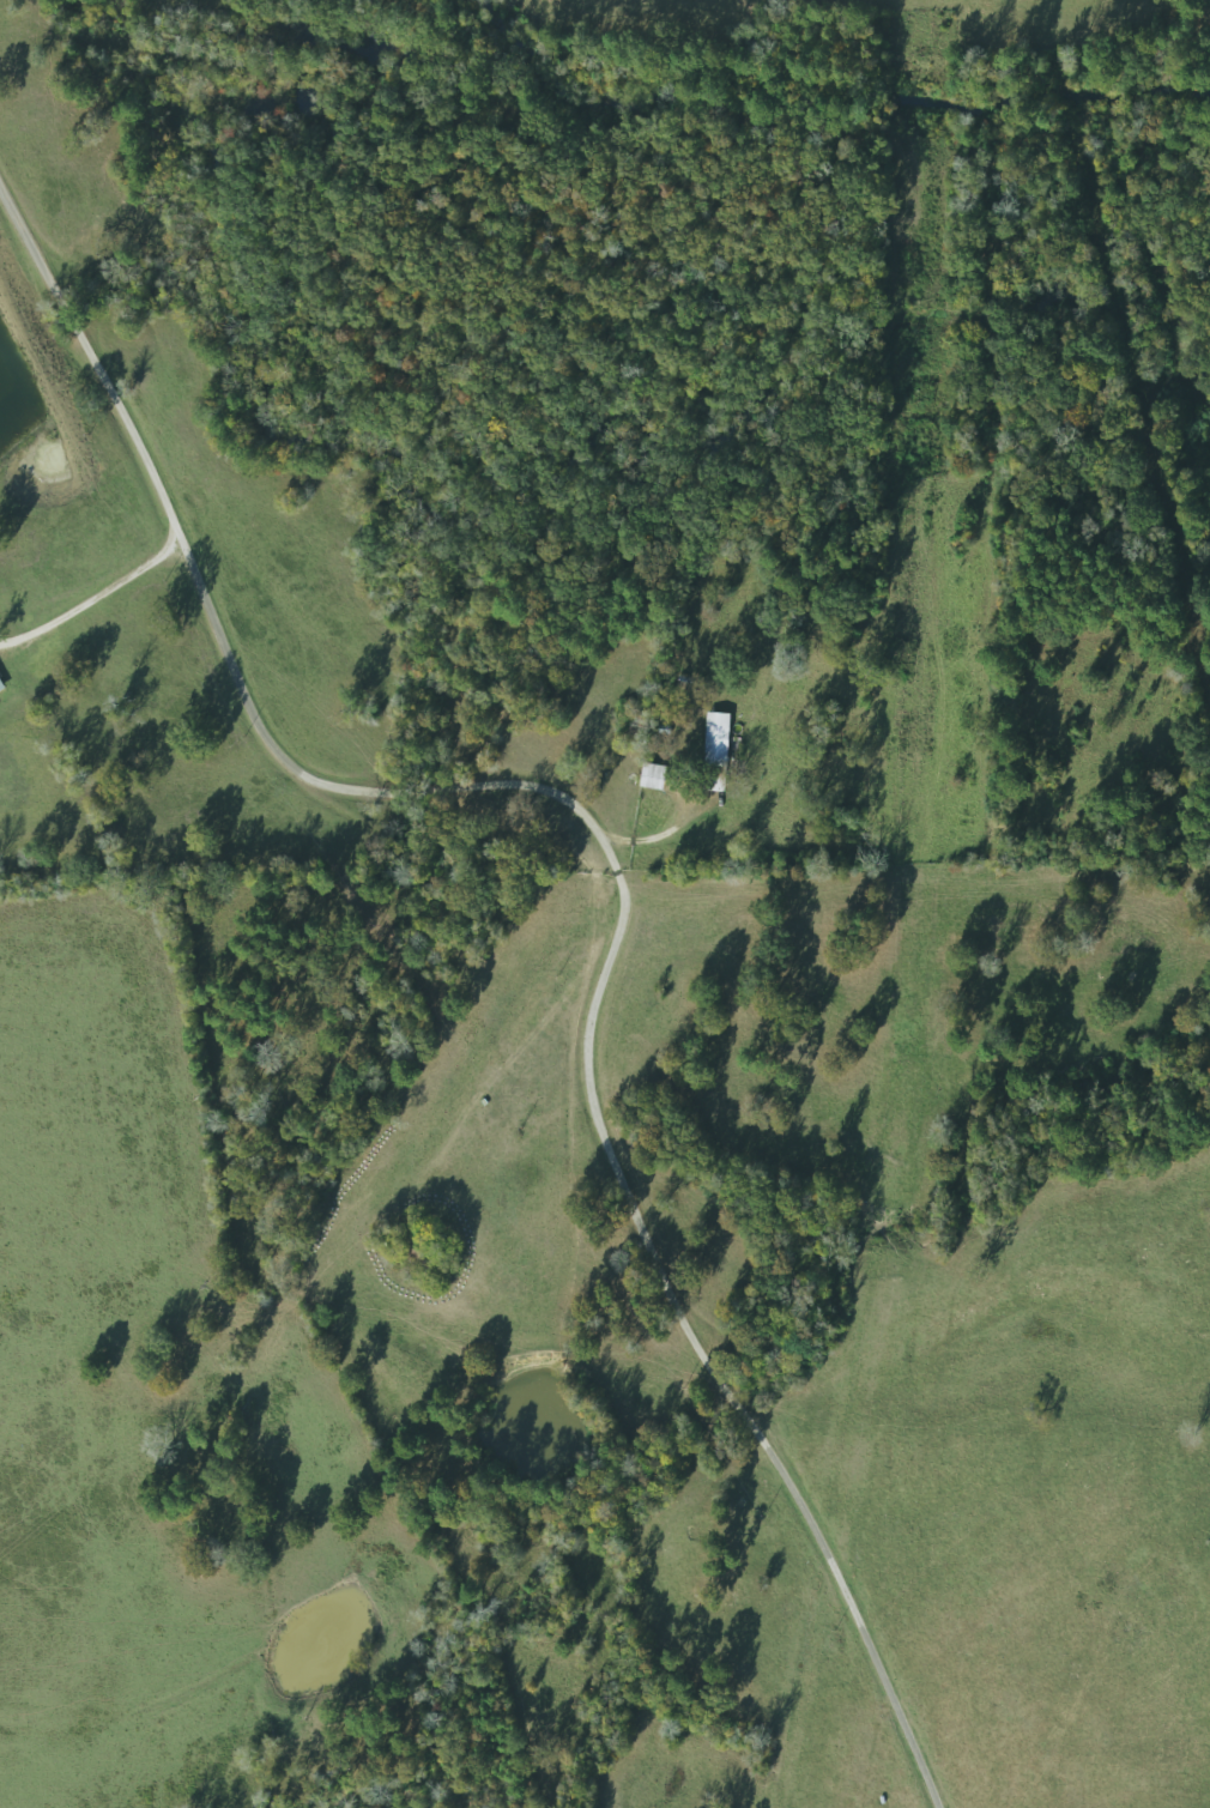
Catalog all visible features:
building: (716, 740)
road: (615, 871)

